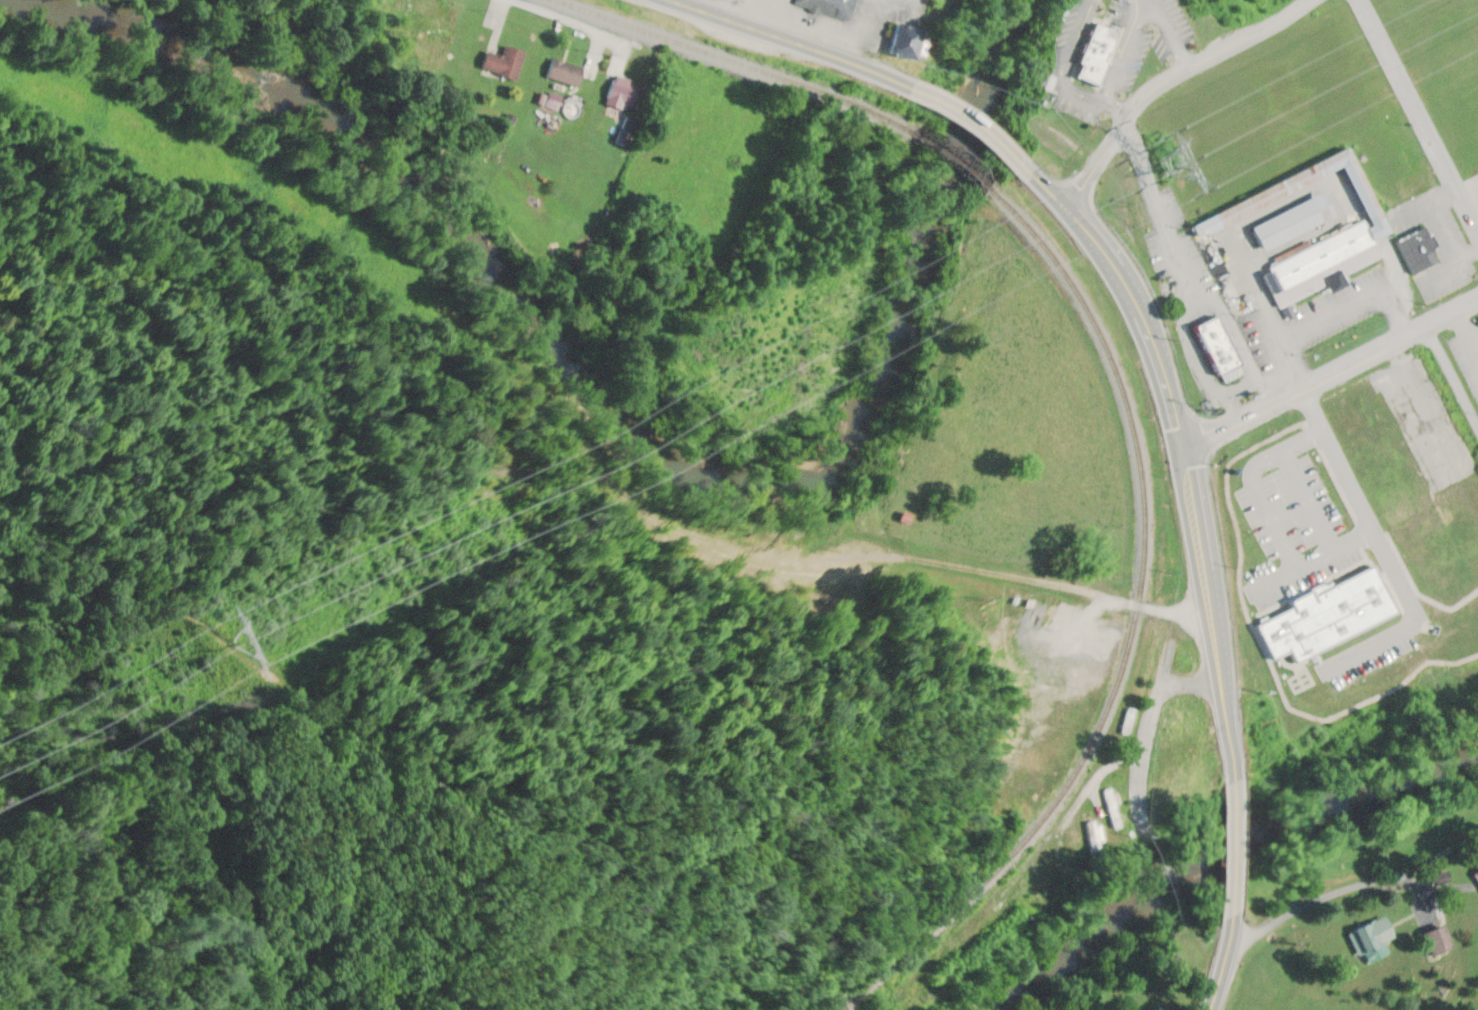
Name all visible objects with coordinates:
road: (704, 4)
building: (832, 6)
road: (567, 20)
building: (434, 23)
building: (913, 40)
road: (795, 43)
building: (1100, 53)
building: (506, 60)
railway: (741, 61)
building: (1113, 65)
building: (567, 71)
road: (1167, 77)
building: (624, 92)
road: (979, 123)
building: (628, 130)
railway: (960, 154)
power tower: (1171, 163)
building: (1272, 194)
building: (1296, 220)
building: (1421, 249)
building: (1232, 358)
road: (1335, 370)
road: (1450, 379)
river: (629, 429)
road: (1192, 452)
building: (1378, 476)
building: (1410, 529)
road: (1046, 582)
building: (1443, 588)
railway: (1132, 633)
power tower: (251, 643)
road: (1154, 710)
building: (1129, 722)
road: (1108, 765)
building: (1095, 838)
road: (1242, 847)
river: (1229, 868)
road: (1355, 883)
building: (1372, 937)
building: (1440, 939)
road: (1225, 963)

